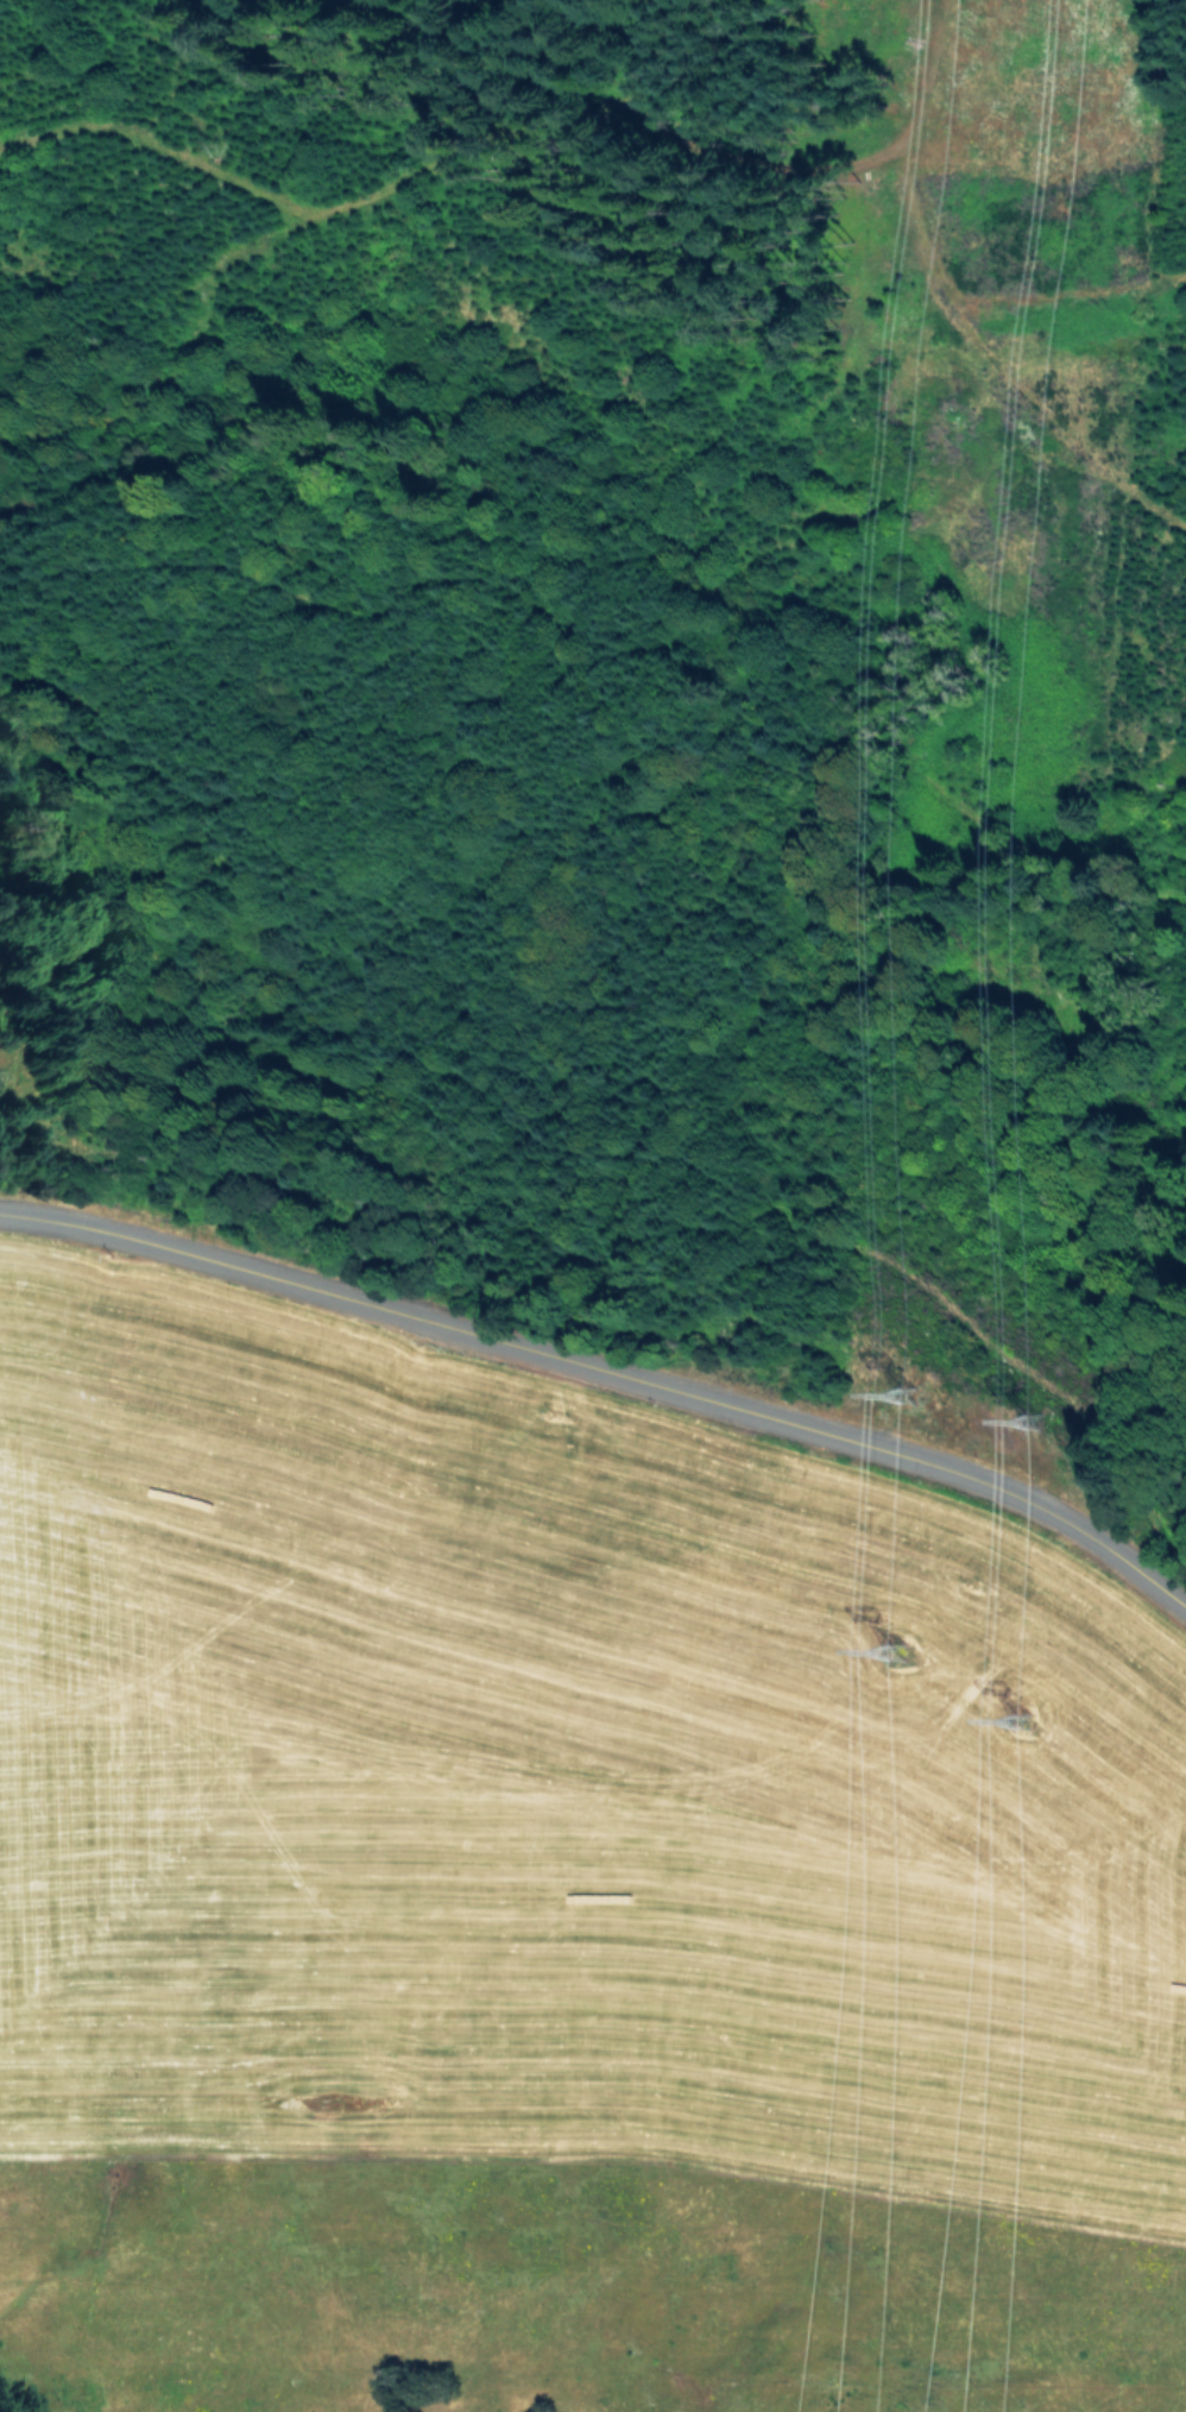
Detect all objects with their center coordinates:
road: (453, 157)
road: (1068, 296)
road: (951, 307)
road: (619, 647)
road: (797, 1218)
road: (607, 1374)
power tower: (911, 1410)
power tower: (1059, 1438)
power tower: (894, 1656)
power tower: (1034, 1737)
crop: (550, 1789)

